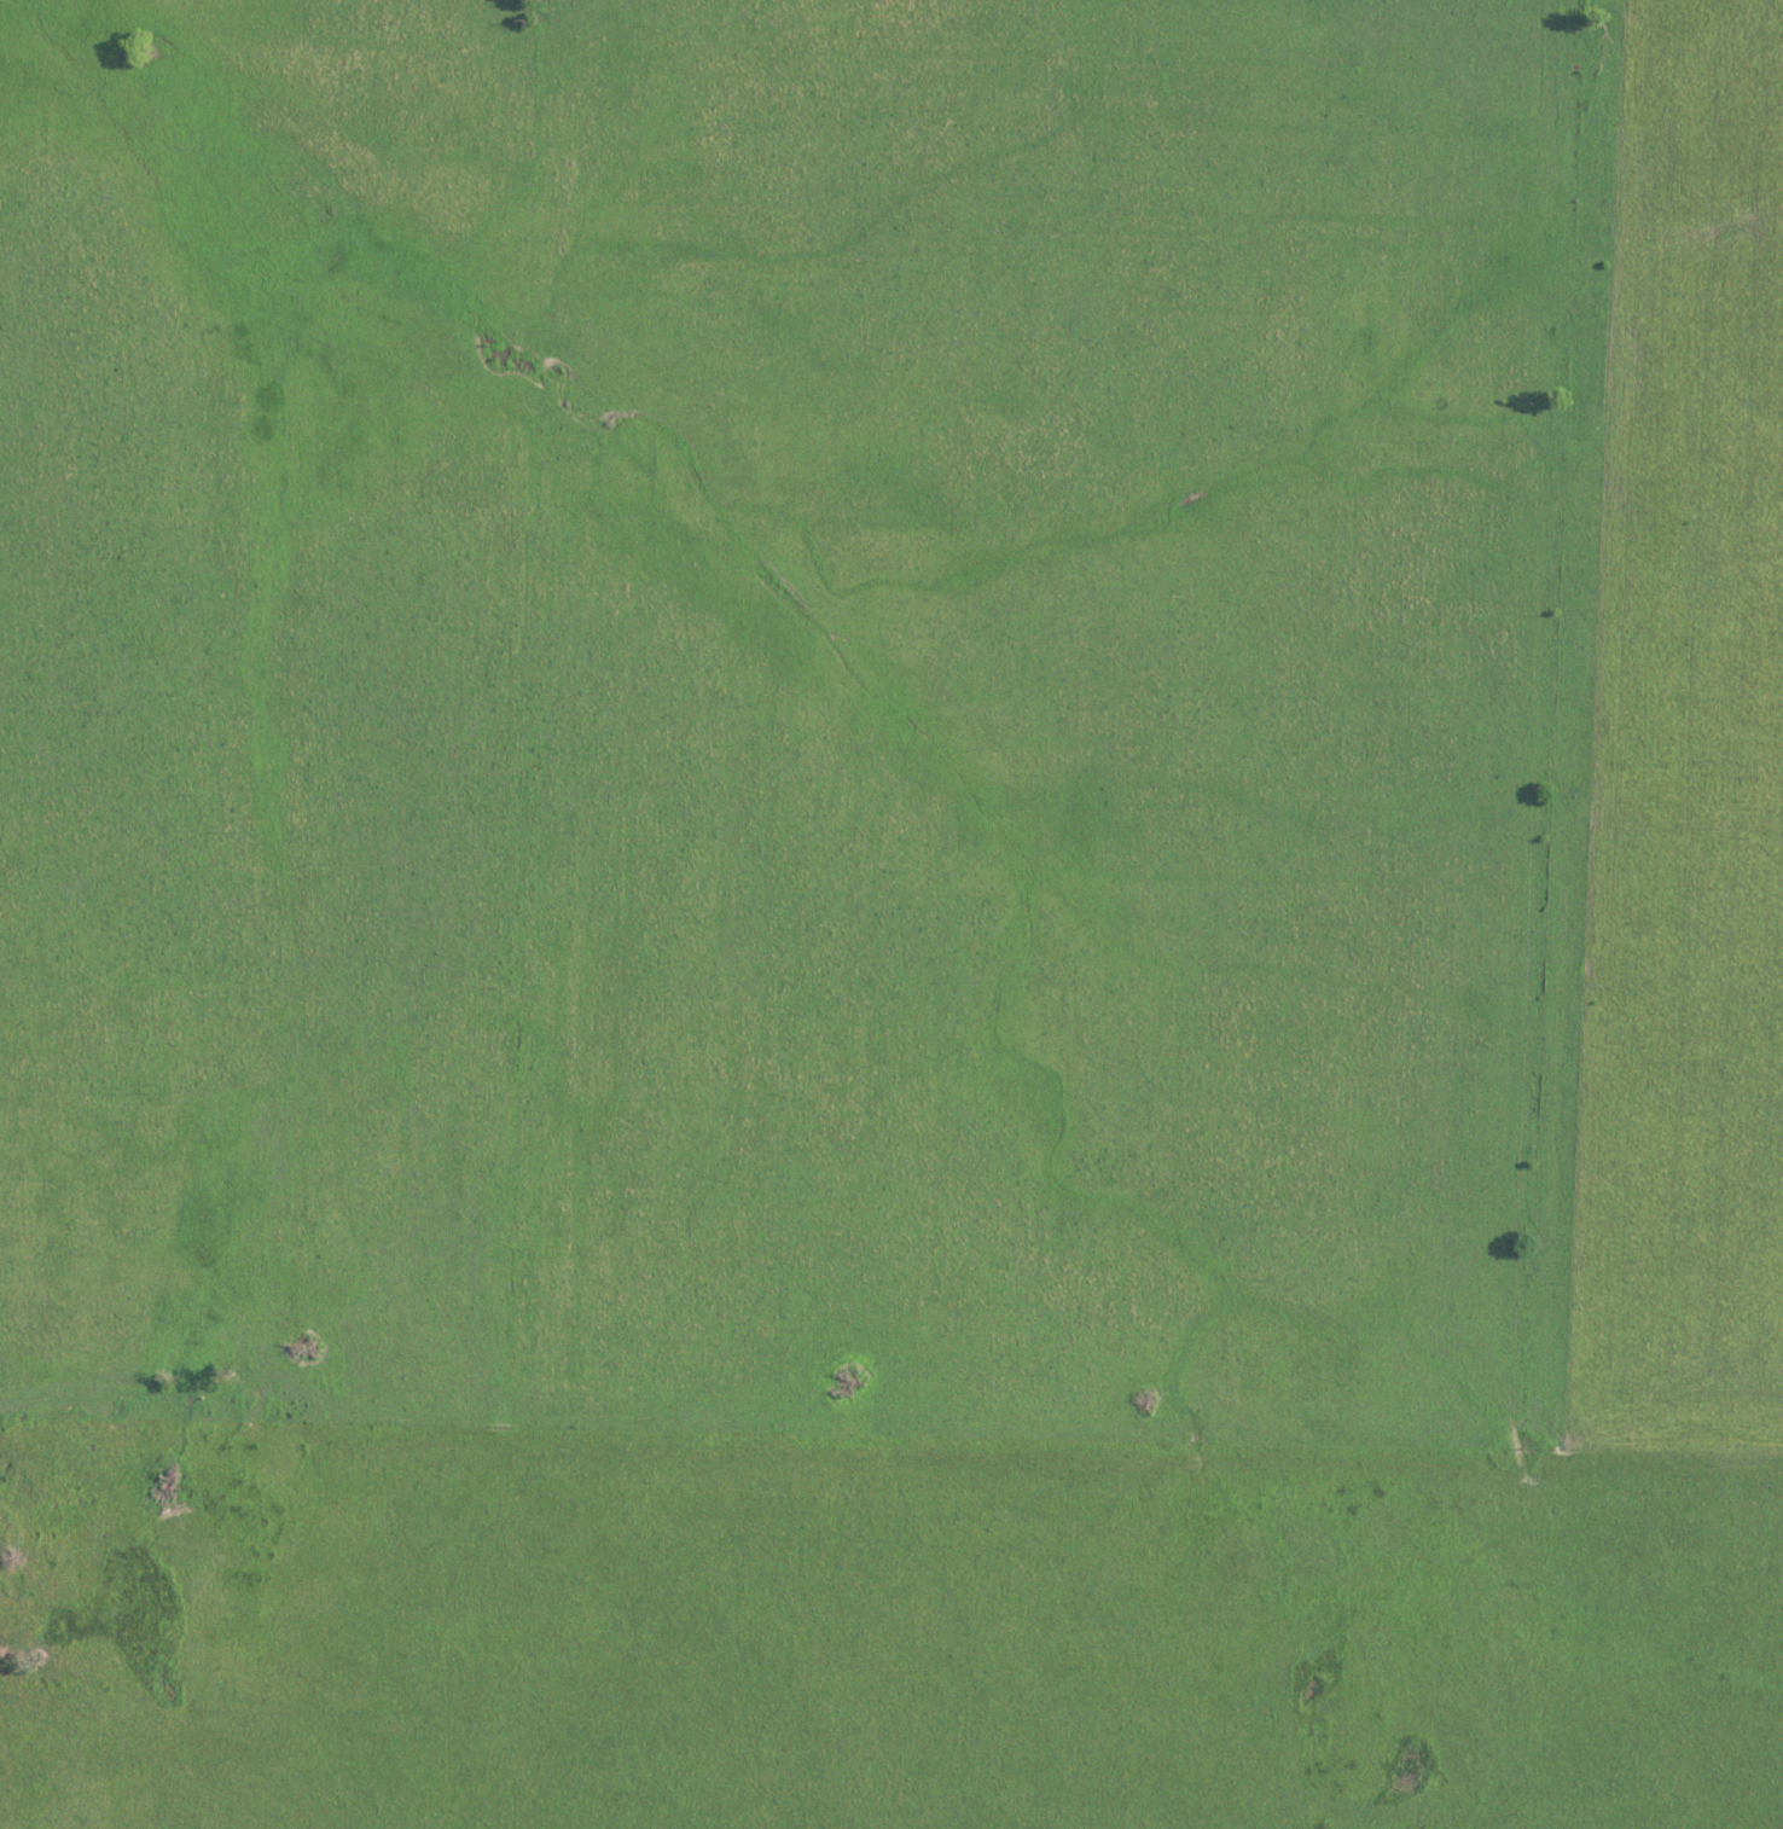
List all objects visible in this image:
road: (1653, 1641)

